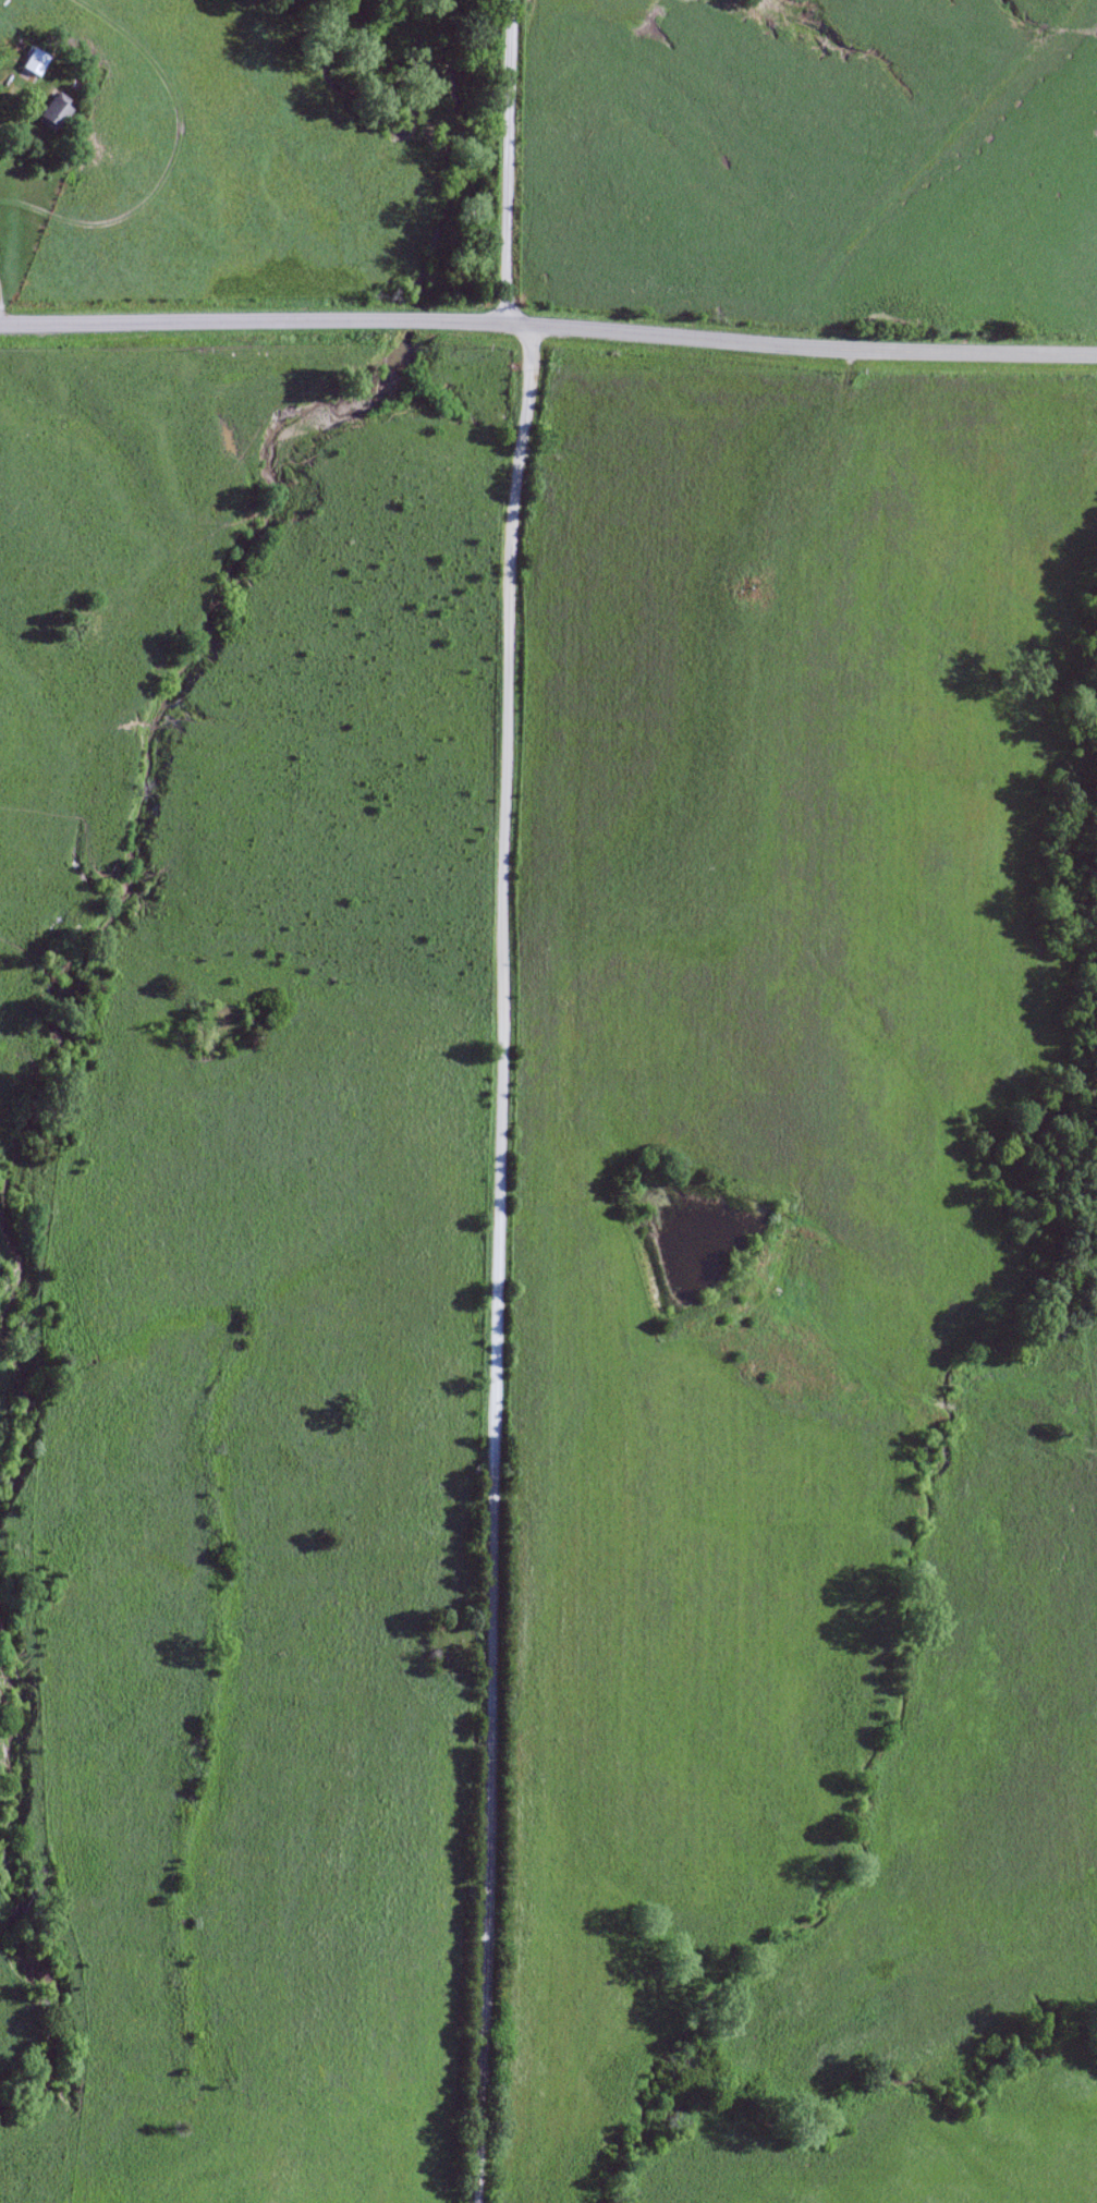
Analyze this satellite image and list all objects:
building: (35, 62)
road: (37, 99)
building: (56, 113)
road: (509, 160)
road: (169, 168)
road: (548, 326)
road: (492, 1263)
park: (450, 1640)

